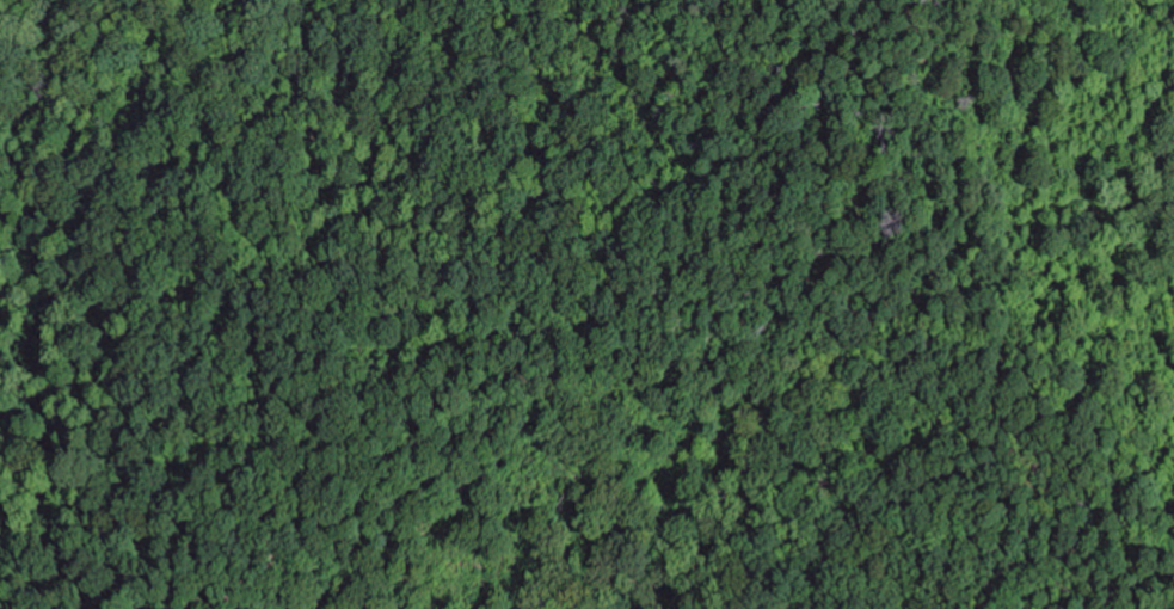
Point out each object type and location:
road: (902, 288)
road: (1113, 566)
road: (1033, 582)

